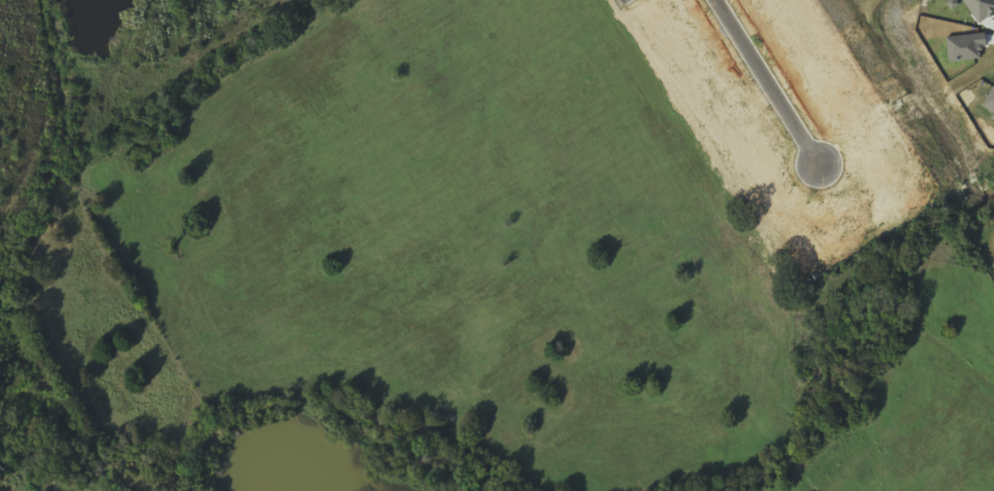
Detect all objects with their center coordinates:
road: (766, 81)
railway: (50, 108)

